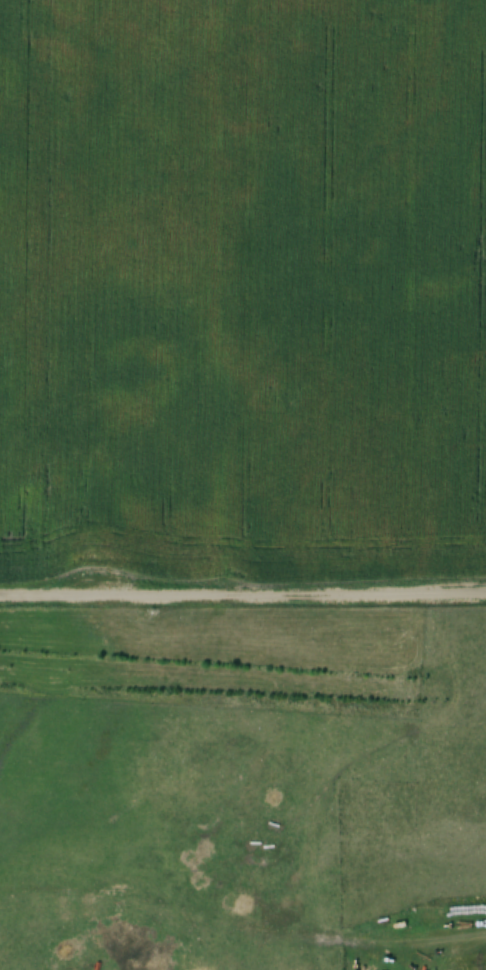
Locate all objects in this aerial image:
road: (243, 596)

